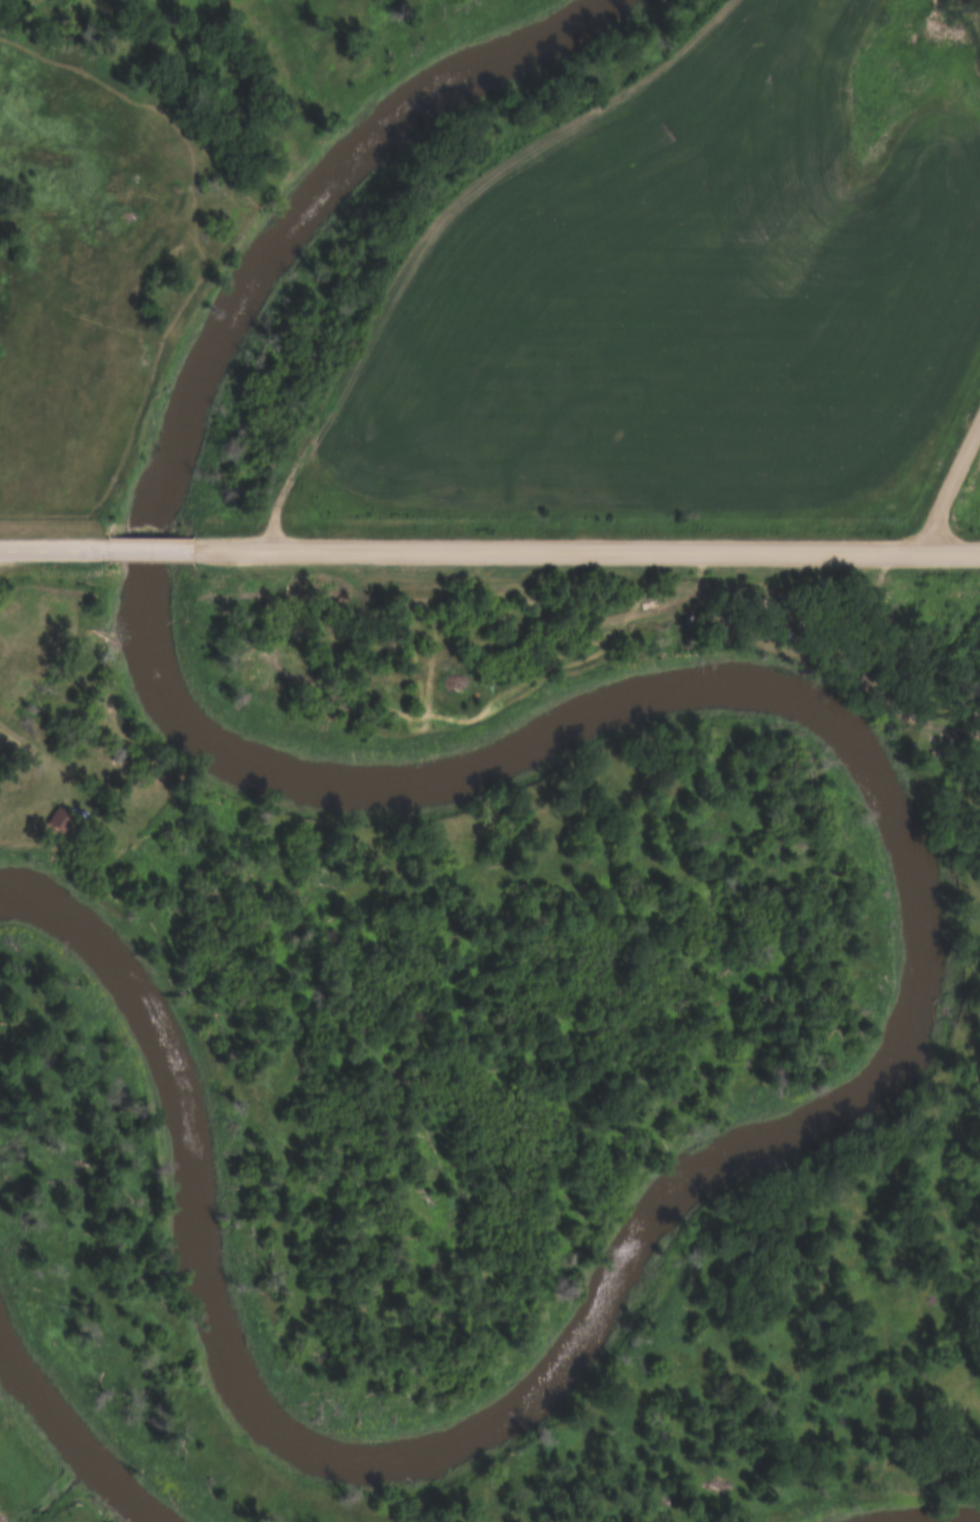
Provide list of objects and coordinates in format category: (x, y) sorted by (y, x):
building: (43, 157)
road: (435, 221)
road: (948, 475)
road: (45, 550)
road: (133, 550)
road: (577, 550)
river: (880, 792)
river: (66, 1438)

